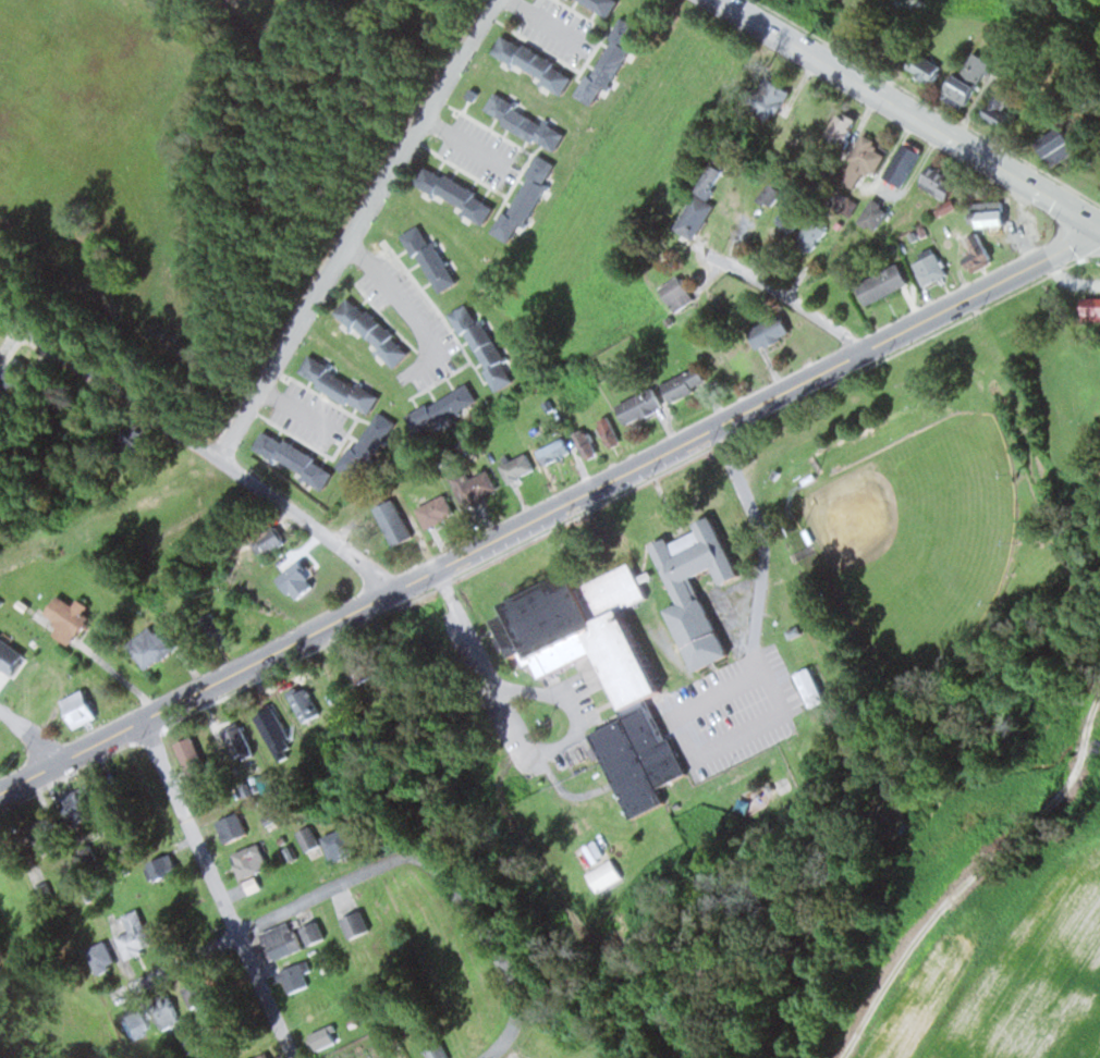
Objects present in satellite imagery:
building: (606, 5)
building: (614, 62)
building: (536, 63)
building: (928, 69)
building: (971, 77)
building: (1003, 107)
road: (912, 110)
building: (523, 119)
building: (844, 128)
building: (1061, 140)
road: (461, 144)
building: (867, 161)
building: (906, 163)
building: (942, 182)
building: (460, 194)
building: (772, 194)
building: (529, 198)
building: (699, 214)
building: (795, 216)
building: (877, 216)
building: (999, 217)
road: (357, 231)
building: (816, 233)
building: (979, 250)
building: (437, 258)
building: (932, 267)
building: (888, 283)
building: (680, 293)
road: (793, 304)
road: (412, 306)
building: (1095, 308)
building: (376, 331)
building: (774, 331)
building: (487, 345)
building: (16, 374)
building: (343, 384)
building: (690, 384)
road: (290, 404)
building: (643, 406)
building: (447, 409)
building: (610, 431)
building: (138, 441)
building: (589, 443)
building: (372, 444)
road: (204, 448)
building: (557, 451)
building: (296, 458)
building: (520, 467)
building: (478, 487)
road: (549, 510)
building: (439, 512)
building: (396, 522)
building: (273, 541)
building: (701, 588)
building: (72, 619)
building: (517, 637)
building: (156, 644)
building: (11, 656)
building: (367, 667)
building: (613, 676)
building: (815, 687)
building: (308, 704)
building: (83, 709)
building: (279, 735)
road: (30, 736)
building: (241, 741)
building: (196, 760)
building: (84, 803)
building: (235, 827)
building: (53, 834)
building: (311, 838)
building: (342, 845)
building: (253, 861)
building: (164, 870)
road: (971, 881)
road: (218, 888)
building: (46, 893)
road: (259, 925)
building: (358, 925)
building: (317, 933)
building: (138, 935)
road: (484, 938)
building: (285, 940)
building: (105, 958)
building: (297, 979)
building: (203, 998)
building: (171, 1012)
building: (137, 1024)
building: (326, 1038)
building: (439, 1051)
road: (488, 1057)
road: (493, 1057)

